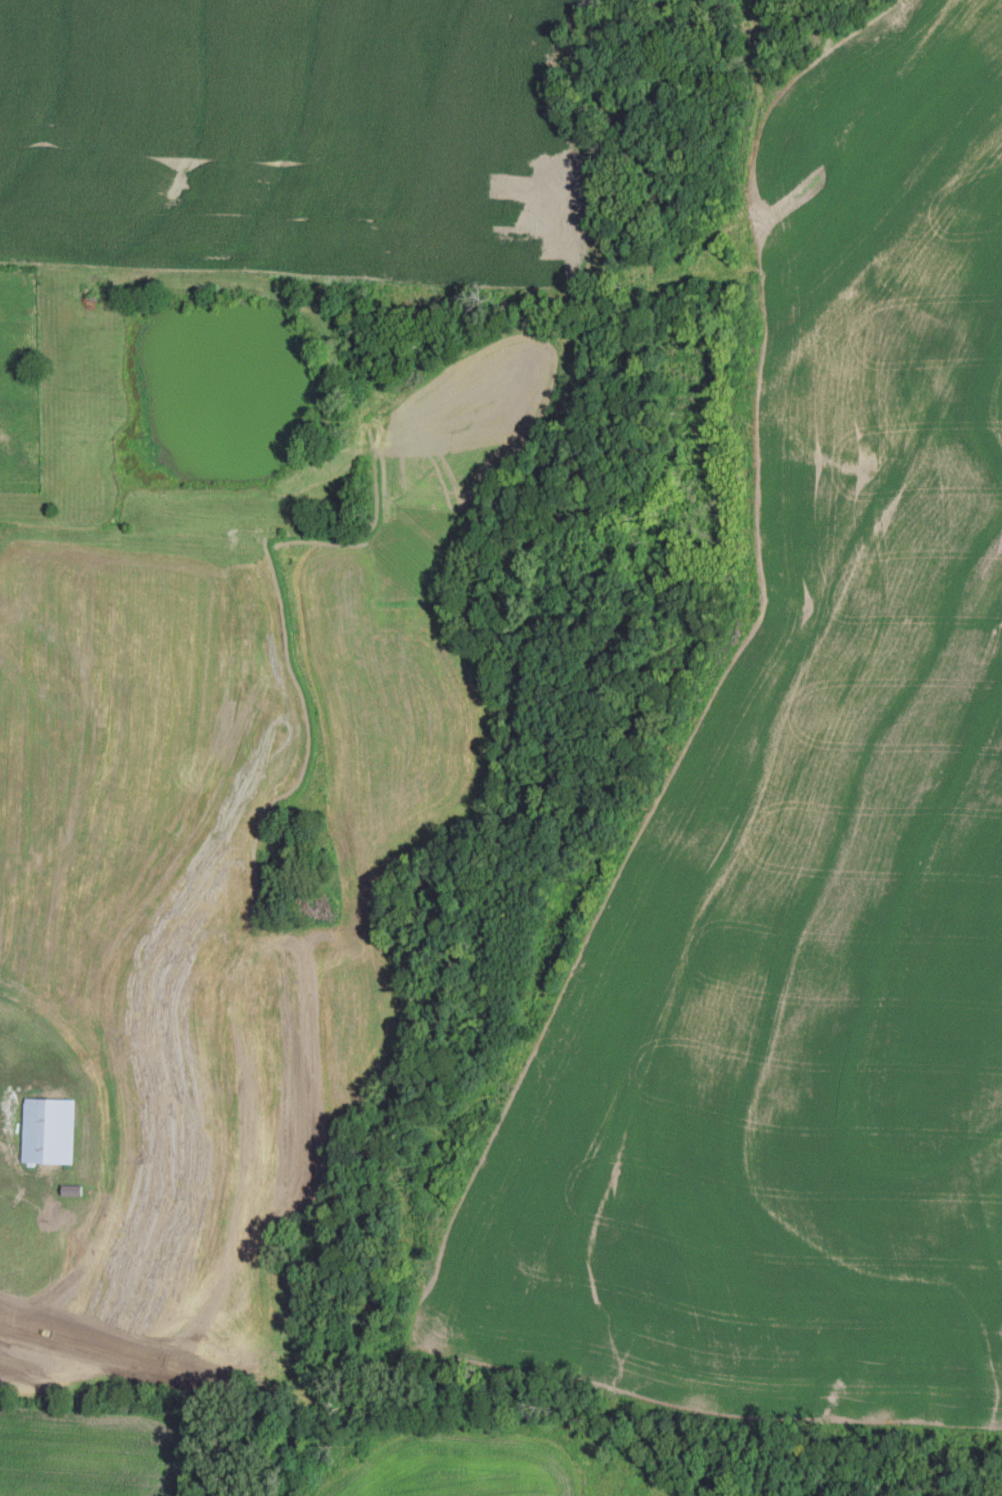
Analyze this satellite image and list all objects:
road: (2, 1119)
building: (46, 1130)

